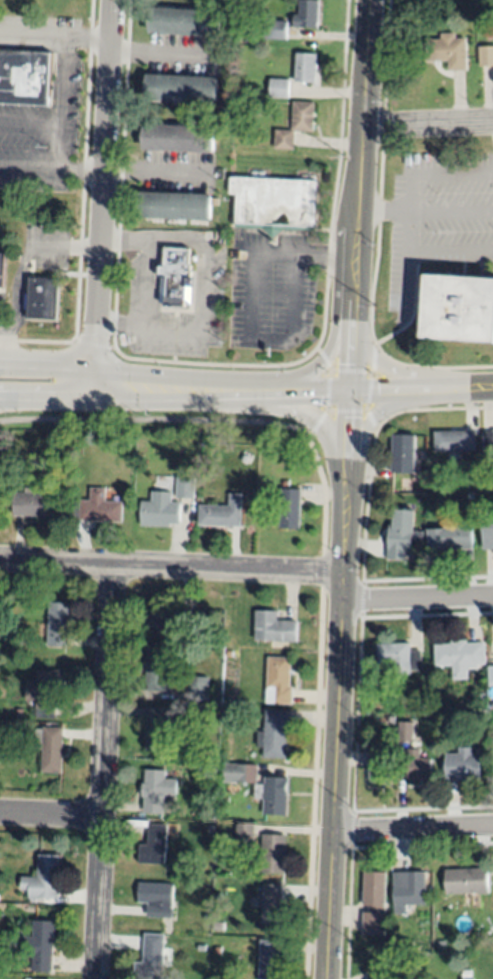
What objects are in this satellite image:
building: (307, 14)
building: (185, 22)
building: (276, 30)
road: (54, 32)
building: (443, 51)
road: (158, 52)
building: (485, 56)
building: (305, 67)
building: (25, 77)
road: (64, 80)
building: (181, 88)
building: (279, 88)
building: (295, 124)
road: (30, 125)
road: (428, 125)
building: (179, 138)
road: (59, 148)
road: (52, 169)
road: (155, 173)
road: (102, 194)
road: (408, 199)
building: (275, 202)
building: (176, 206)
road: (383, 209)
road: (190, 241)
road: (450, 252)
road: (262, 255)
building: (2, 270)
building: (176, 277)
building: (42, 302)
building: (459, 309)
road: (148, 330)
road: (47, 382)
road: (293, 391)
traffic signals: (349, 391)
road: (47, 394)
road: (152, 423)
building: (209, 433)
building: (454, 441)
building: (487, 447)
building: (402, 453)
building: (185, 487)
road: (345, 489)
building: (32, 503)
building: (290, 507)
building: (97, 508)
building: (159, 510)
building: (222, 513)
building: (402, 534)
building: (487, 534)
building: (450, 539)
road: (171, 568)
road: (417, 600)
building: (168, 617)
building: (56, 624)
building: (273, 627)
building: (459, 656)
building: (398, 658)
building: (159, 670)
building: (491, 676)
building: (278, 679)
building: (197, 688)
building: (44, 691)
building: (480, 696)
road: (313, 706)
building: (227, 714)
building: (390, 718)
building: (155, 729)
building: (406, 732)
building: (274, 733)
building: (49, 746)
building: (463, 765)
building: (378, 766)
building: (420, 767)
building: (203, 769)
road: (103, 772)
building: (240, 773)
building: (155, 790)
building: (272, 795)
road: (51, 814)
road: (413, 829)
building: (244, 834)
building: (223, 843)
building: (154, 846)
building: (273, 853)
building: (44, 877)
building: (467, 881)
building: (408, 890)
building: (157, 898)
building: (271, 903)
building: (374, 903)
building: (206, 916)
building: (441, 945)
building: (40, 946)
building: (201, 947)
building: (151, 958)
building: (269, 960)
building: (464, 978)

